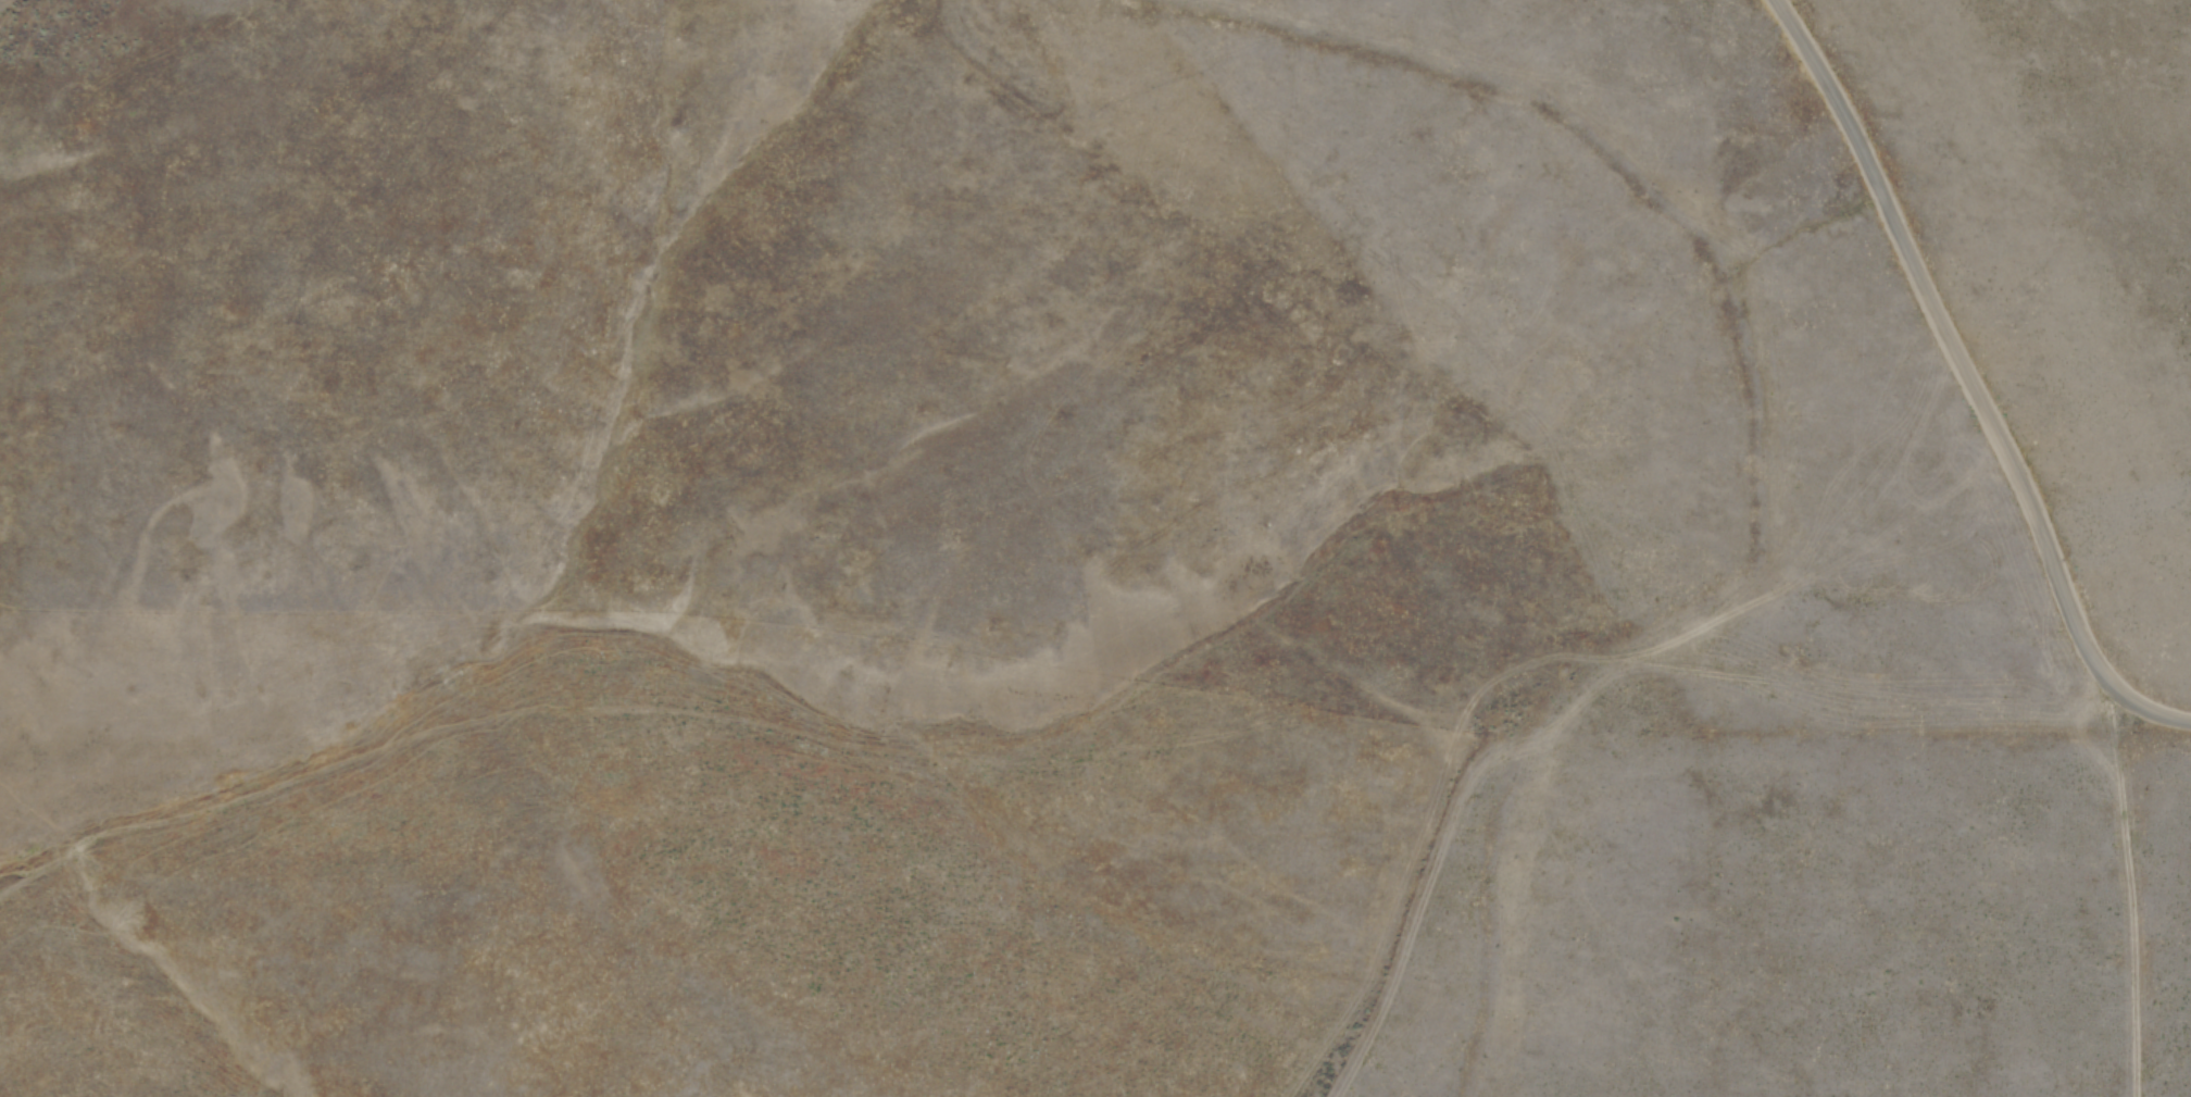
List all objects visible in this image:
road: (1969, 377)
road: (2128, 888)

